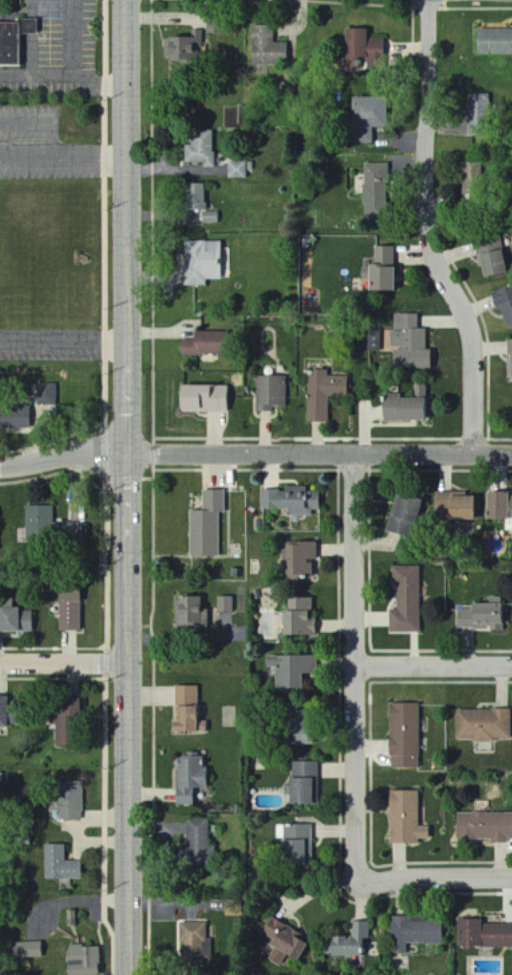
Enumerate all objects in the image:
building: (12, 41)
building: (494, 42)
building: (363, 46)
building: (184, 48)
building: (267, 48)
road: (16, 74)
road: (53, 75)
road: (100, 85)
building: (478, 107)
building: (366, 119)
road: (44, 124)
building: (201, 148)
road: (64, 160)
road: (129, 168)
building: (470, 168)
building: (239, 169)
building: (375, 190)
building: (196, 196)
building: (202, 217)
road: (432, 231)
building: (384, 255)
building: (490, 258)
building: (202, 261)
building: (380, 277)
building: (504, 305)
road: (64, 336)
building: (409, 342)
building: (204, 344)
building: (509, 357)
building: (271, 393)
building: (323, 393)
building: (47, 394)
building: (202, 398)
building: (404, 408)
building: (15, 418)
road: (129, 447)
road: (255, 454)
road: (109, 488)
building: (291, 500)
building: (453, 505)
building: (496, 506)
building: (402, 515)
building: (207, 524)
building: (51, 525)
building: (297, 558)
building: (407, 600)
building: (226, 604)
building: (70, 611)
building: (191, 612)
building: (482, 616)
building: (299, 617)
building: (16, 620)
road: (184, 636)
road: (64, 665)
road: (434, 666)
road: (357, 668)
building: (292, 669)
building: (3, 711)
building: (187, 711)
building: (63, 718)
building: (483, 725)
building: (298, 730)
building: (404, 735)
road: (128, 765)
building: (190, 778)
building: (304, 783)
building: (69, 801)
building: (405, 818)
building: (484, 826)
building: (198, 837)
building: (298, 844)
building: (60, 864)
road: (434, 878)
building: (413, 933)
building: (484, 934)
building: (283, 938)
building: (195, 941)
building: (351, 941)
building: (28, 950)
building: (276, 957)
building: (83, 960)

